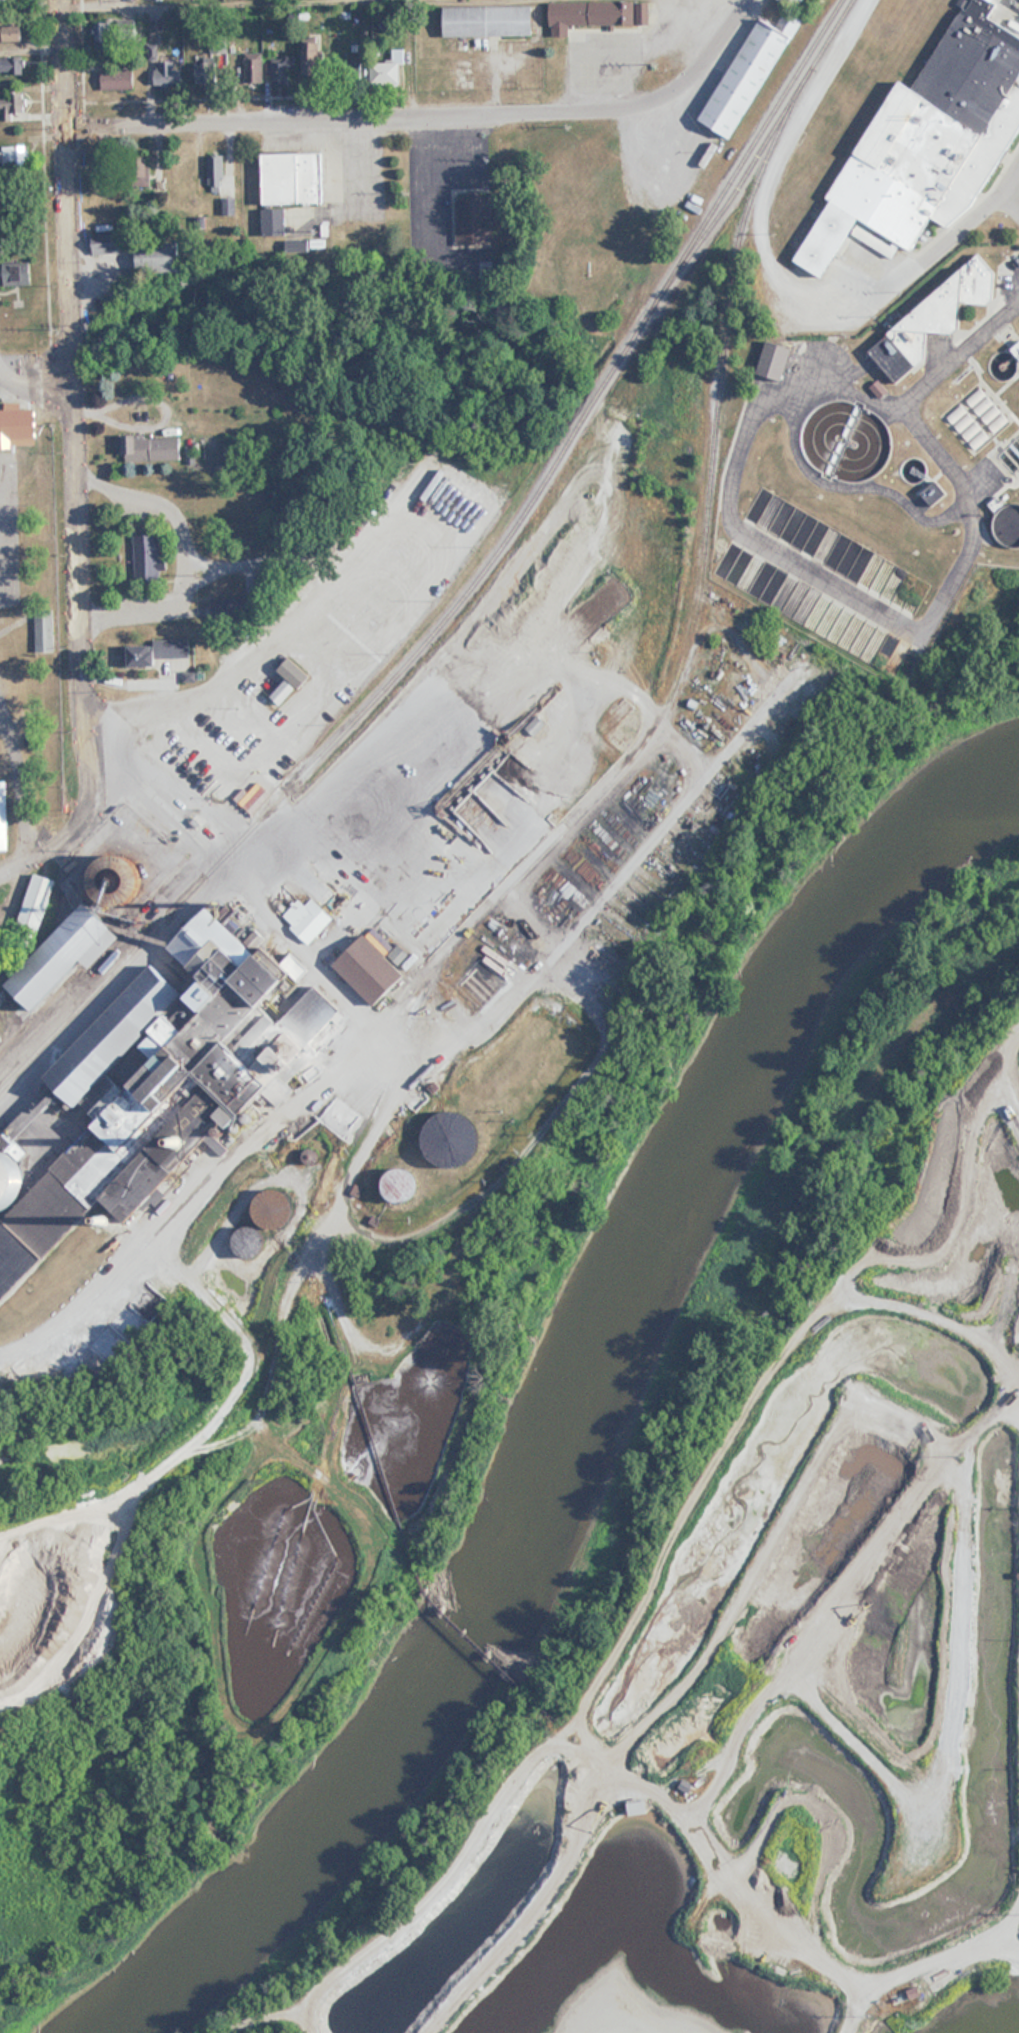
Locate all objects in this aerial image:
building: (590, 16)
building: (489, 22)
building: (14, 33)
building: (109, 37)
building: (313, 60)
road: (377, 62)
building: (12, 66)
building: (353, 67)
building: (255, 71)
building: (283, 71)
building: (207, 72)
building: (385, 72)
building: (166, 73)
building: (748, 79)
building: (117, 80)
building: (13, 107)
road: (434, 114)
building: (931, 140)
railway: (765, 141)
building: (14, 157)
road: (1014, 168)
building: (140, 172)
building: (216, 174)
road: (356, 174)
building: (293, 178)
road: (1014, 187)
building: (275, 221)
building: (474, 221)
road: (956, 226)
building: (106, 243)
building: (297, 245)
building: (160, 258)
building: (17, 273)
building: (937, 318)
building: (776, 361)
road: (72, 362)
road: (36, 366)
building: (12, 418)
building: (152, 448)
building: (147, 558)
railway: (470, 582)
building: (235, 611)
building: (45, 627)
building: (156, 651)
building: (290, 681)
building: (537, 725)
building: (3, 815)
road: (134, 819)
road: (86, 823)
railway: (576, 834)
park: (31, 865)
building: (36, 903)
road: (293, 930)
building: (64, 955)
building: (371, 969)
road: (118, 990)
building: (314, 1015)
building: (135, 1073)
railway: (396, 1093)
building: (456, 1143)
railway: (288, 1163)
building: (404, 1185)
river: (591, 1418)
building: (640, 1807)

